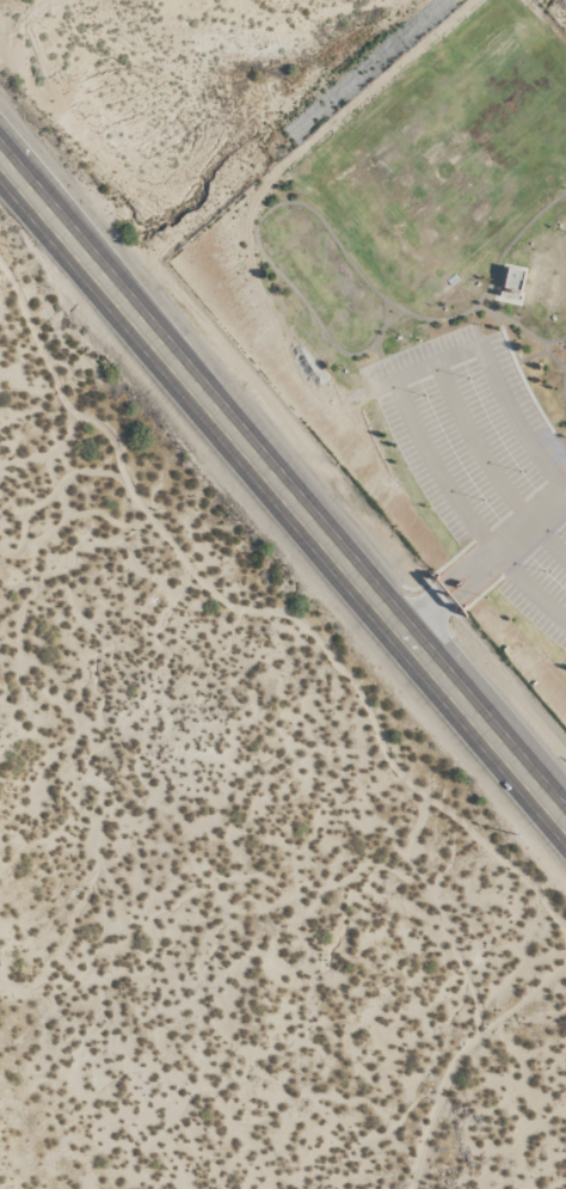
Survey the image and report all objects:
building: (513, 280)
park: (429, 315)
parking lot: (485, 465)
road: (283, 488)
road: (487, 568)

